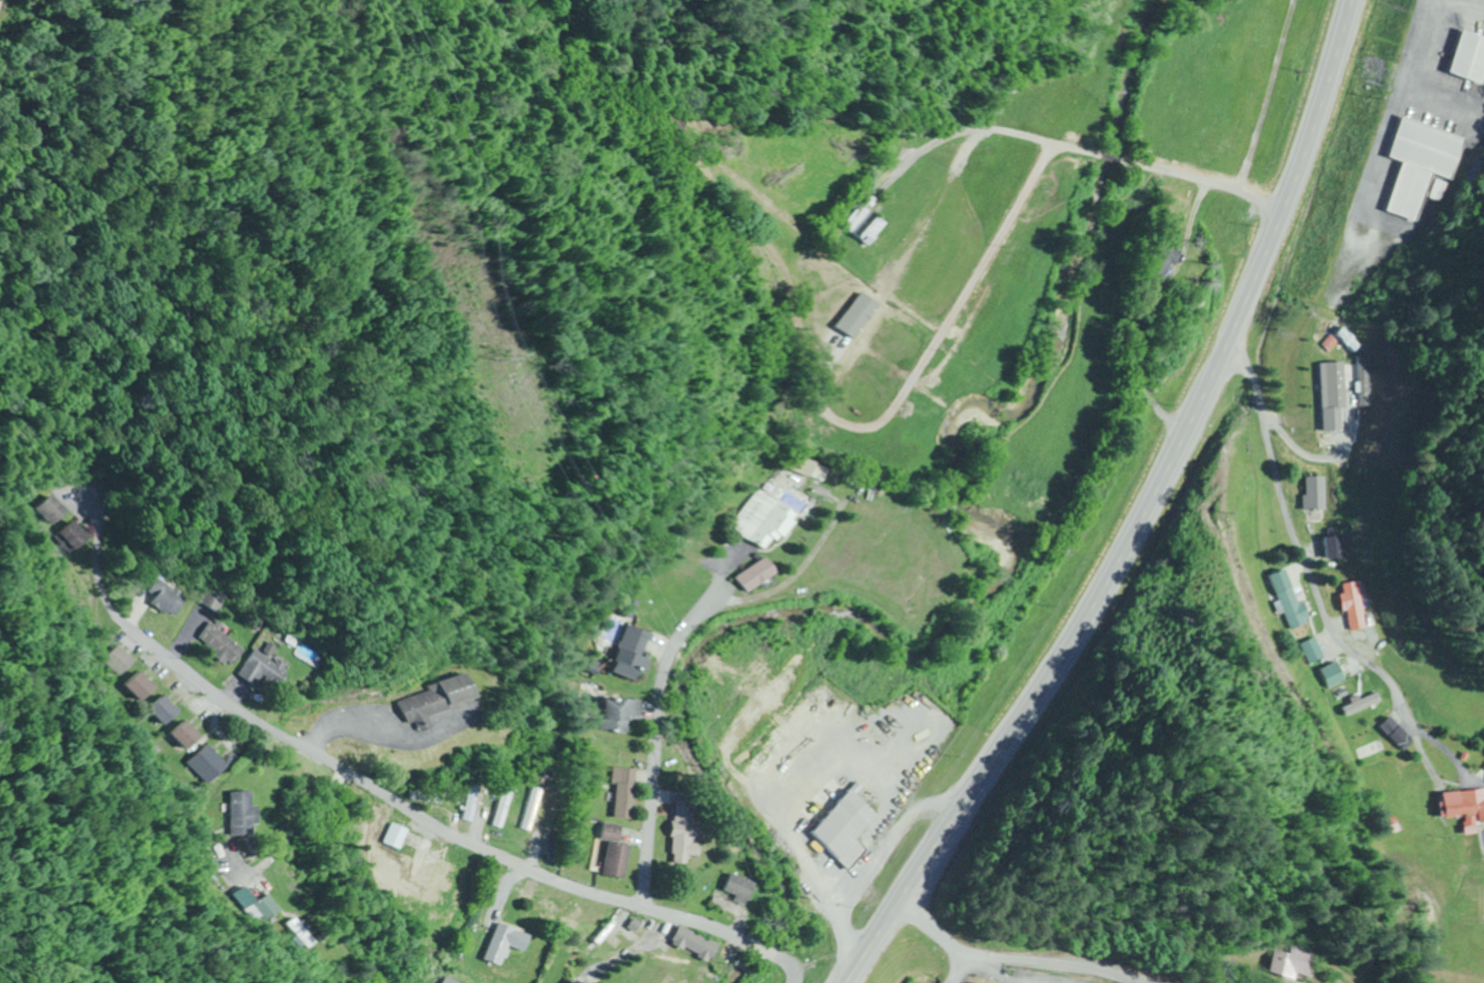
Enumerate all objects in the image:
building: (1469, 58)
road: (1319, 101)
road: (1069, 150)
building: (1421, 164)
building: (862, 225)
building: (1159, 260)
building: (1350, 351)
building: (1335, 400)
building: (804, 469)
building: (1316, 494)
building: (52, 511)
building: (762, 522)
building: (72, 538)
building: (1335, 549)
road: (1327, 568)
building: (752, 577)
building: (165, 599)
building: (1287, 602)
road: (1093, 607)
building: (1357, 610)
building: (218, 645)
building: (1310, 652)
building: (633, 654)
building: (115, 662)
building: (261, 670)
building: (1330, 676)
building: (136, 688)
building: (443, 700)
building: (160, 712)
building: (614, 716)
road: (651, 728)
road: (267, 729)
building: (1392, 733)
building: (182, 736)
building: (204, 765)
building: (616, 794)
building: (501, 809)
building: (1463, 809)
building: (530, 815)
building: (241, 816)
building: (552, 818)
building: (677, 828)
building: (839, 830)
building: (397, 837)
building: (608, 854)
building: (221, 856)
building: (428, 875)
building: (731, 889)
building: (553, 902)
building: (269, 909)
road: (689, 925)
building: (303, 936)
building: (499, 945)
building: (687, 946)
road: (1016, 961)
building: (1292, 965)
road: (1405, 971)
building: (447, 981)
building: (570, 982)

